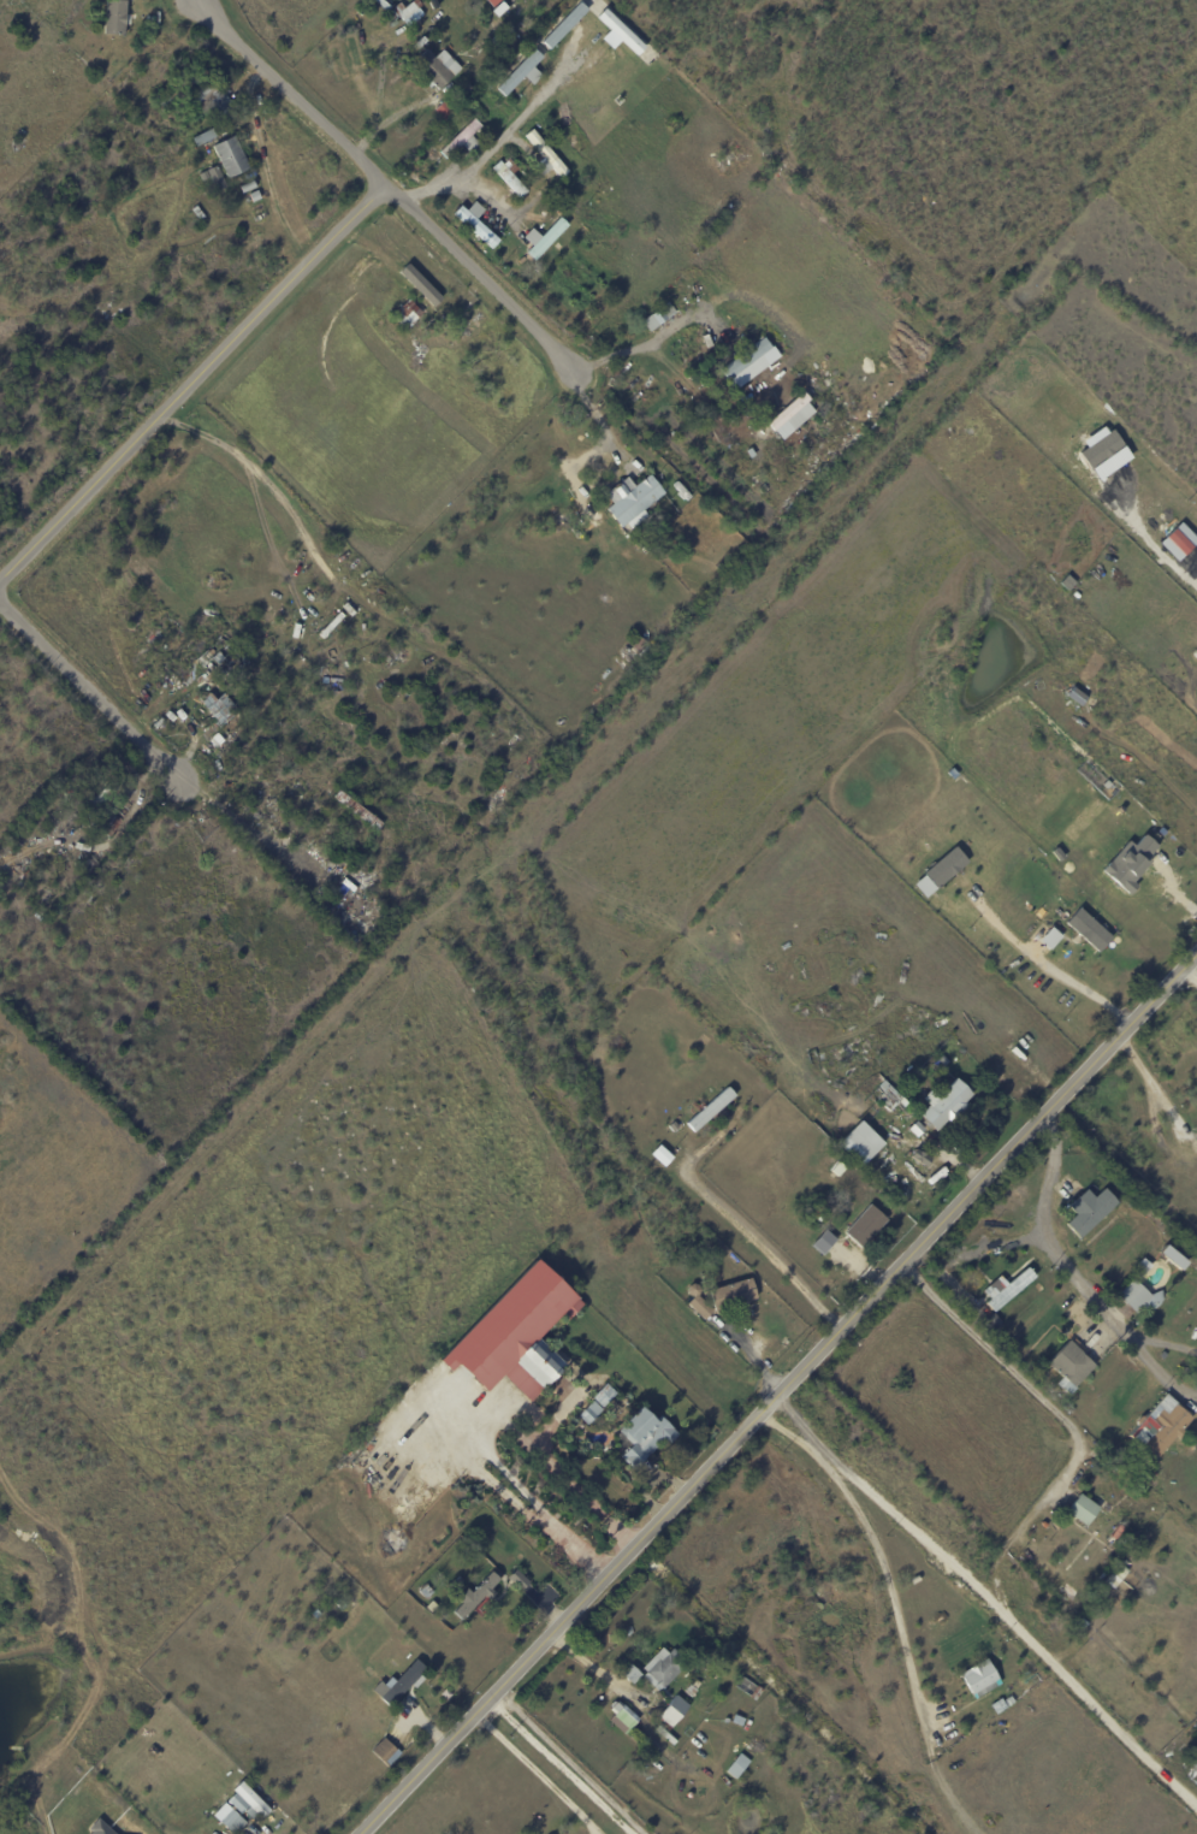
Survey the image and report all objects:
road: (184, 2)
road: (185, 2)
road: (188, 2)
building: (494, 2)
building: (502, 10)
building: (409, 11)
building: (115, 17)
building: (522, 24)
building: (502, 26)
building: (563, 26)
building: (617, 34)
building: (497, 47)
building: (88, 60)
building: (97, 70)
building: (434, 70)
building: (523, 73)
building: (484, 77)
building: (179, 90)
building: (467, 91)
building: (215, 100)
building: (445, 110)
road: (525, 114)
building: (202, 137)
building: (464, 140)
building: (231, 156)
building: (546, 156)
building: (212, 178)
road: (462, 179)
building: (510, 179)
road: (381, 183)
building: (247, 185)
building: (255, 196)
building: (200, 213)
building: (476, 224)
building: (544, 238)
building: (419, 284)
building: (409, 313)
building: (472, 314)
building: (656, 320)
building: (443, 337)
road: (630, 350)
building: (748, 363)
building: (500, 365)
road: (192, 383)
building: (723, 387)
road: (593, 415)
building: (790, 416)
building: (1102, 451)
building: (739, 467)
building: (636, 502)
building: (1178, 542)
road: (1195, 566)
building: (274, 625)
building: (331, 626)
building: (638, 644)
building: (221, 651)
building: (162, 652)
building: (232, 688)
building: (248, 694)
road: (85, 699)
building: (218, 709)
building: (107, 795)
building: (113, 820)
road: (247, 821)
building: (1130, 860)
building: (90, 865)
building: (940, 871)
building: (343, 882)
building: (1088, 929)
road: (1193, 963)
road: (1080, 986)
building: (852, 992)
building: (846, 1010)
building: (929, 1052)
building: (944, 1060)
road: (1148, 1085)
building: (893, 1101)
building: (947, 1105)
building: (712, 1110)
building: (674, 1126)
building: (859, 1142)
building: (1195, 1146)
building: (832, 1158)
building: (1094, 1214)
building: (858, 1225)
road: (1045, 1238)
building: (823, 1241)
road: (753, 1244)
road: (973, 1255)
building: (1171, 1256)
building: (853, 1259)
building: (1143, 1268)
building: (1007, 1288)
building: (734, 1294)
building: (1136, 1295)
building: (699, 1302)
building: (992, 1323)
building: (517, 1330)
road: (1165, 1344)
building: (1072, 1366)
road: (1156, 1375)
road: (775, 1392)
building: (605, 1395)
building: (1068, 1408)
building: (592, 1412)
building: (1166, 1431)
building: (645, 1433)
road: (480, 1445)
road: (557, 1469)
building: (1112, 1469)
building: (1151, 1474)
road: (512, 1480)
road: (500, 1490)
building: (1133, 1493)
road: (883, 1505)
building: (1094, 1516)
road: (1017, 1532)
road: (570, 1546)
building: (1144, 1555)
building: (1118, 1576)
building: (1051, 1578)
building: (518, 1579)
building: (319, 1582)
building: (427, 1591)
building: (1071, 1592)
building: (476, 1595)
building: (339, 1602)
road: (895, 1605)
building: (1083, 1625)
building: (664, 1667)
building: (1030, 1667)
building: (387, 1668)
building: (632, 1673)
building: (982, 1680)
building: (402, 1682)
building: (693, 1688)
building: (757, 1692)
building: (675, 1711)
building: (623, 1716)
building: (369, 1717)
building: (384, 1750)
building: (1195, 1751)
building: (1193, 1759)
road: (569, 1761)
road: (557, 1765)
building: (739, 1765)
road: (540, 1770)
building: (249, 1802)
building: (231, 1817)
building: (111, 1832)

